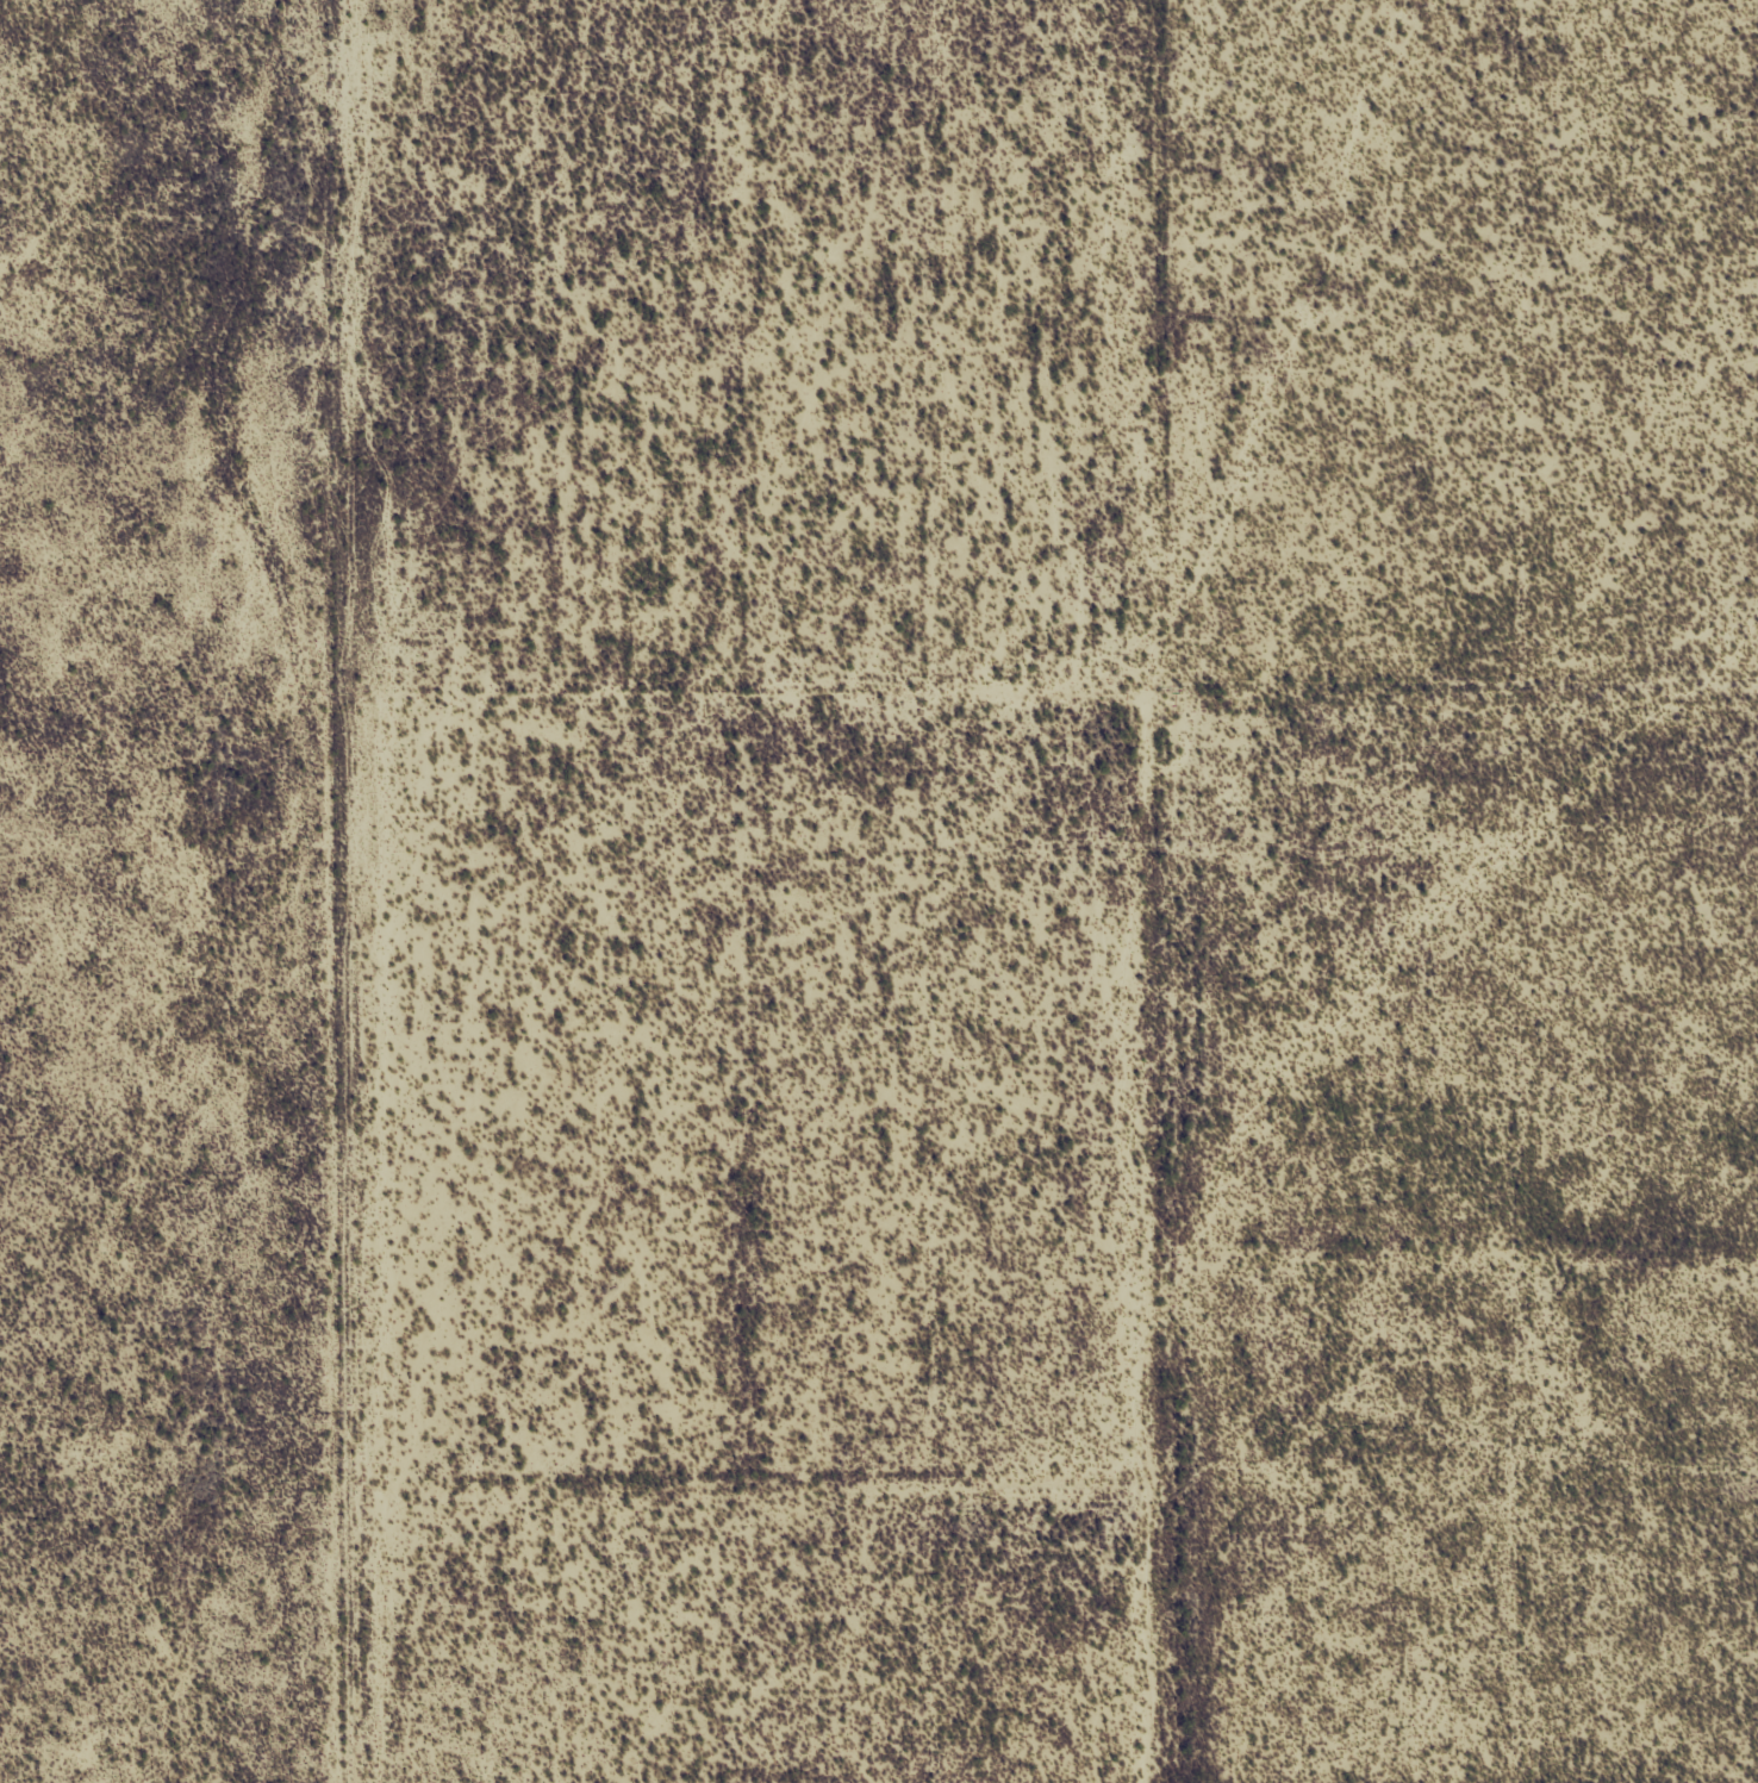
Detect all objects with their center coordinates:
road: (1183, 891)

